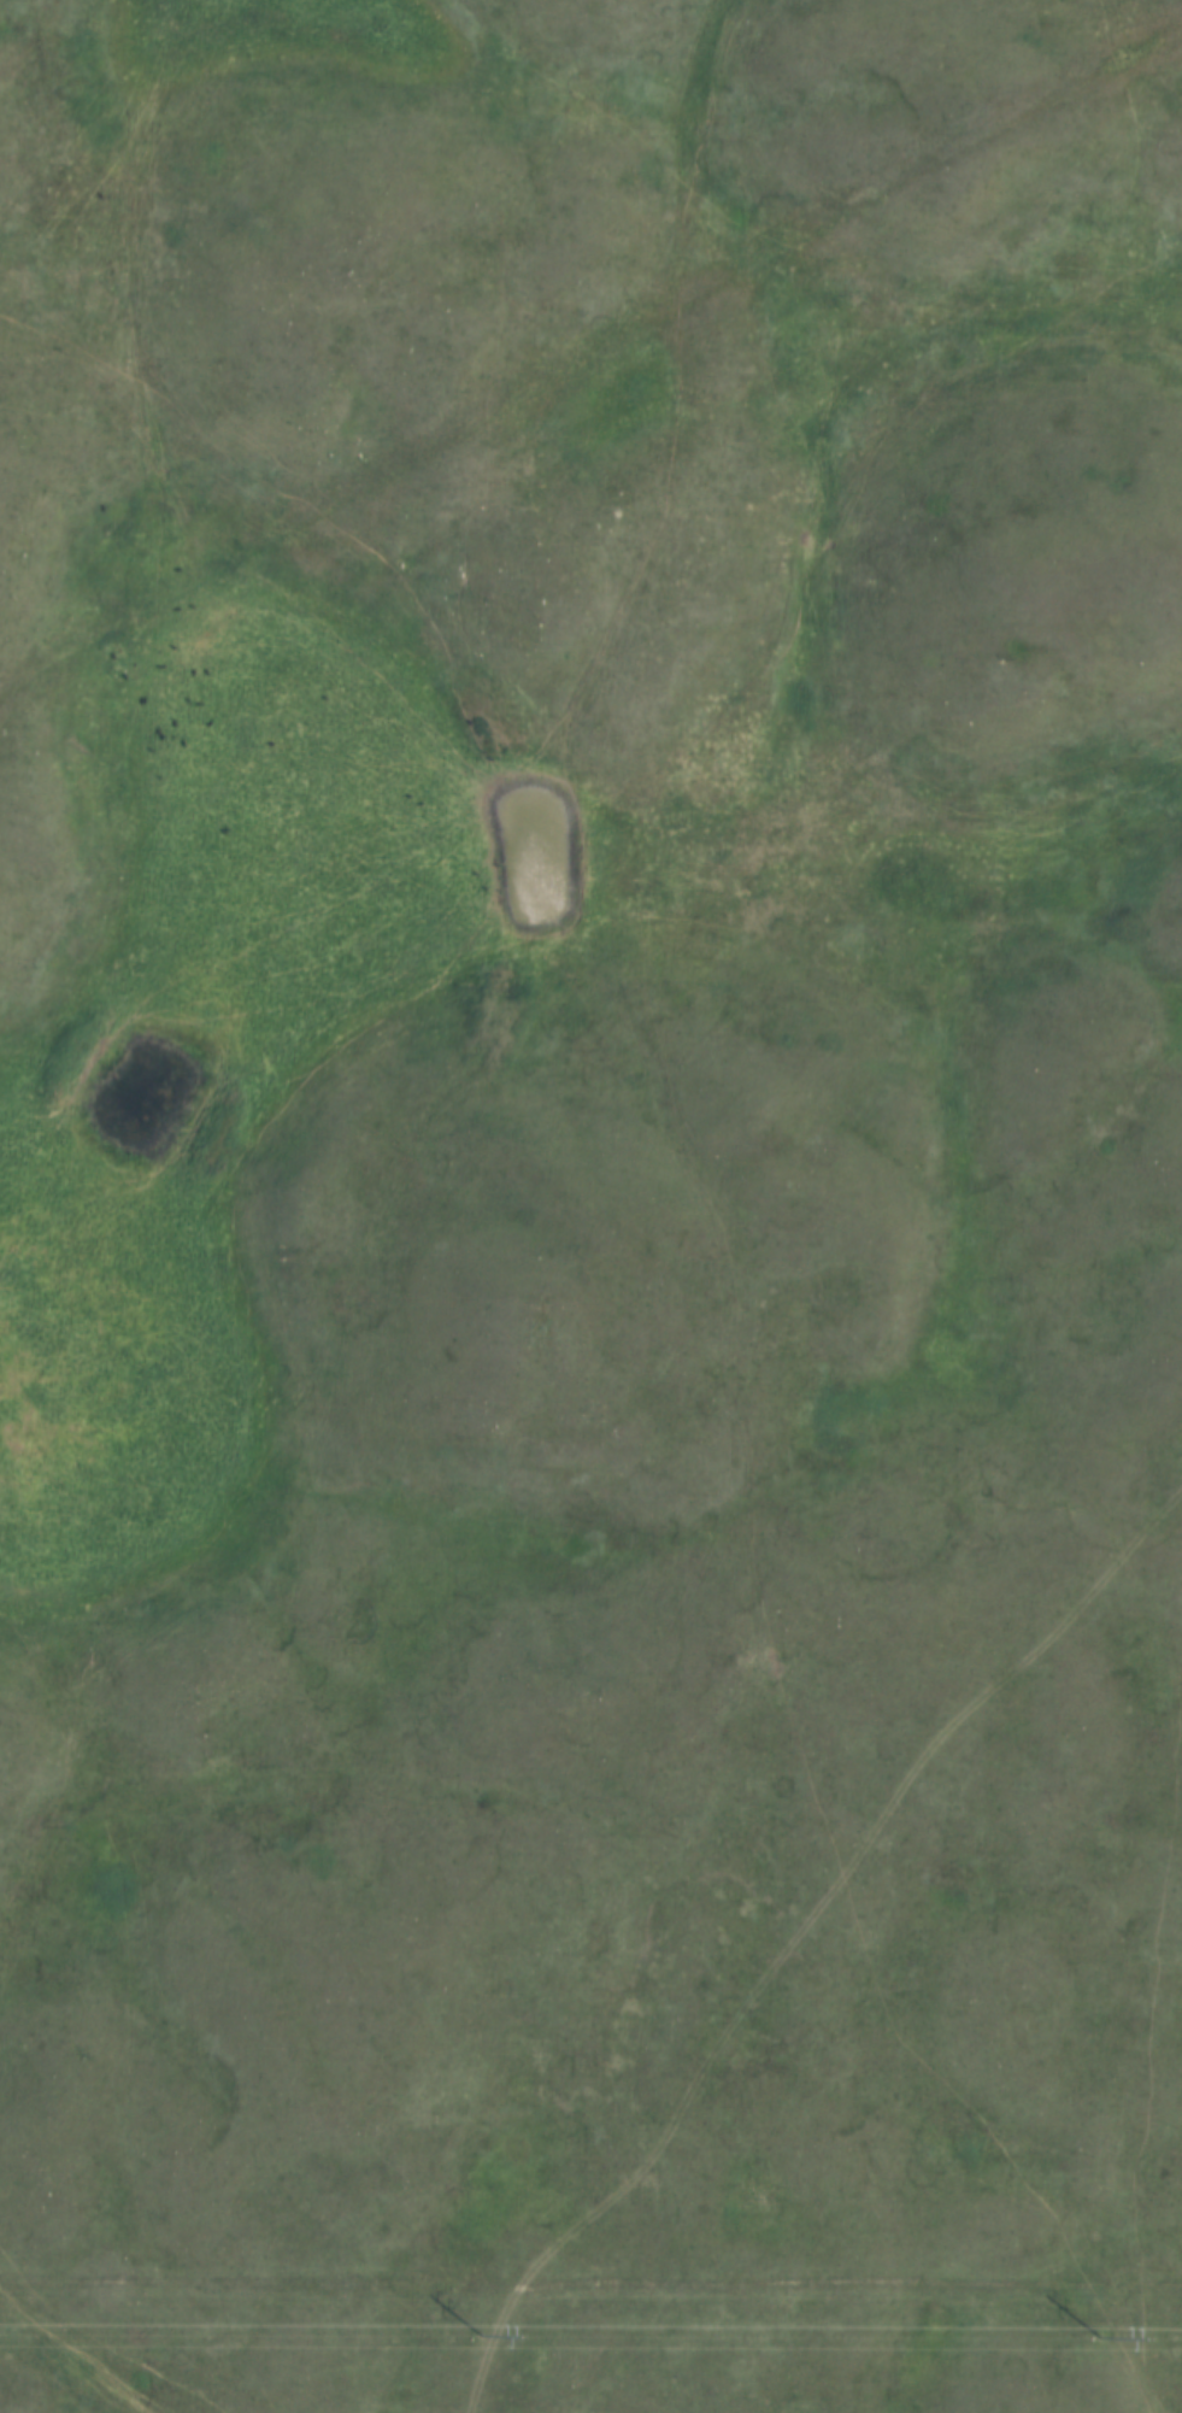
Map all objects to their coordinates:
road: (798, 1938)
power tower: (476, 2335)
power tower: (1098, 2337)

